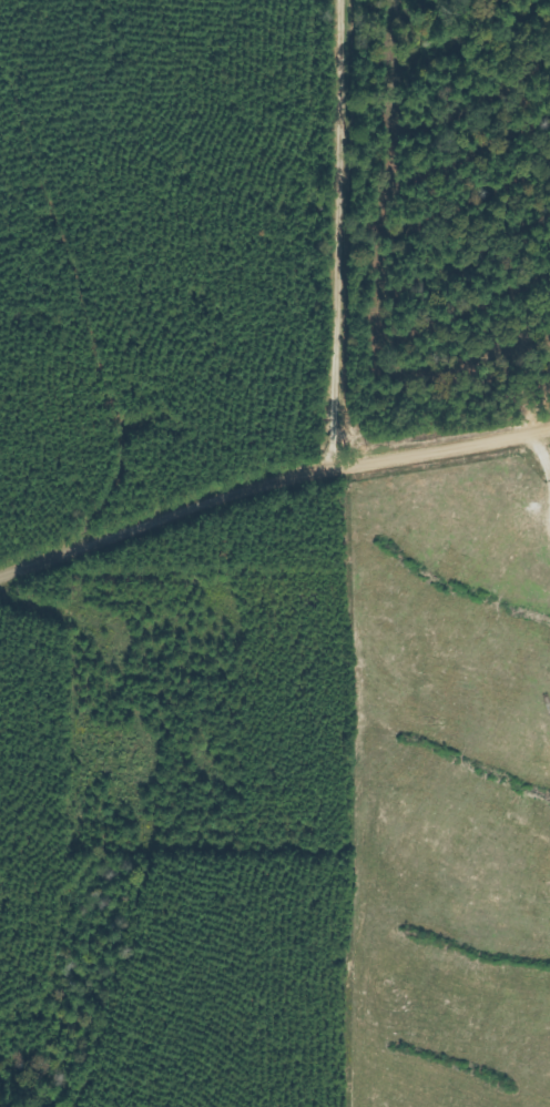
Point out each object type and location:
road: (272, 488)

